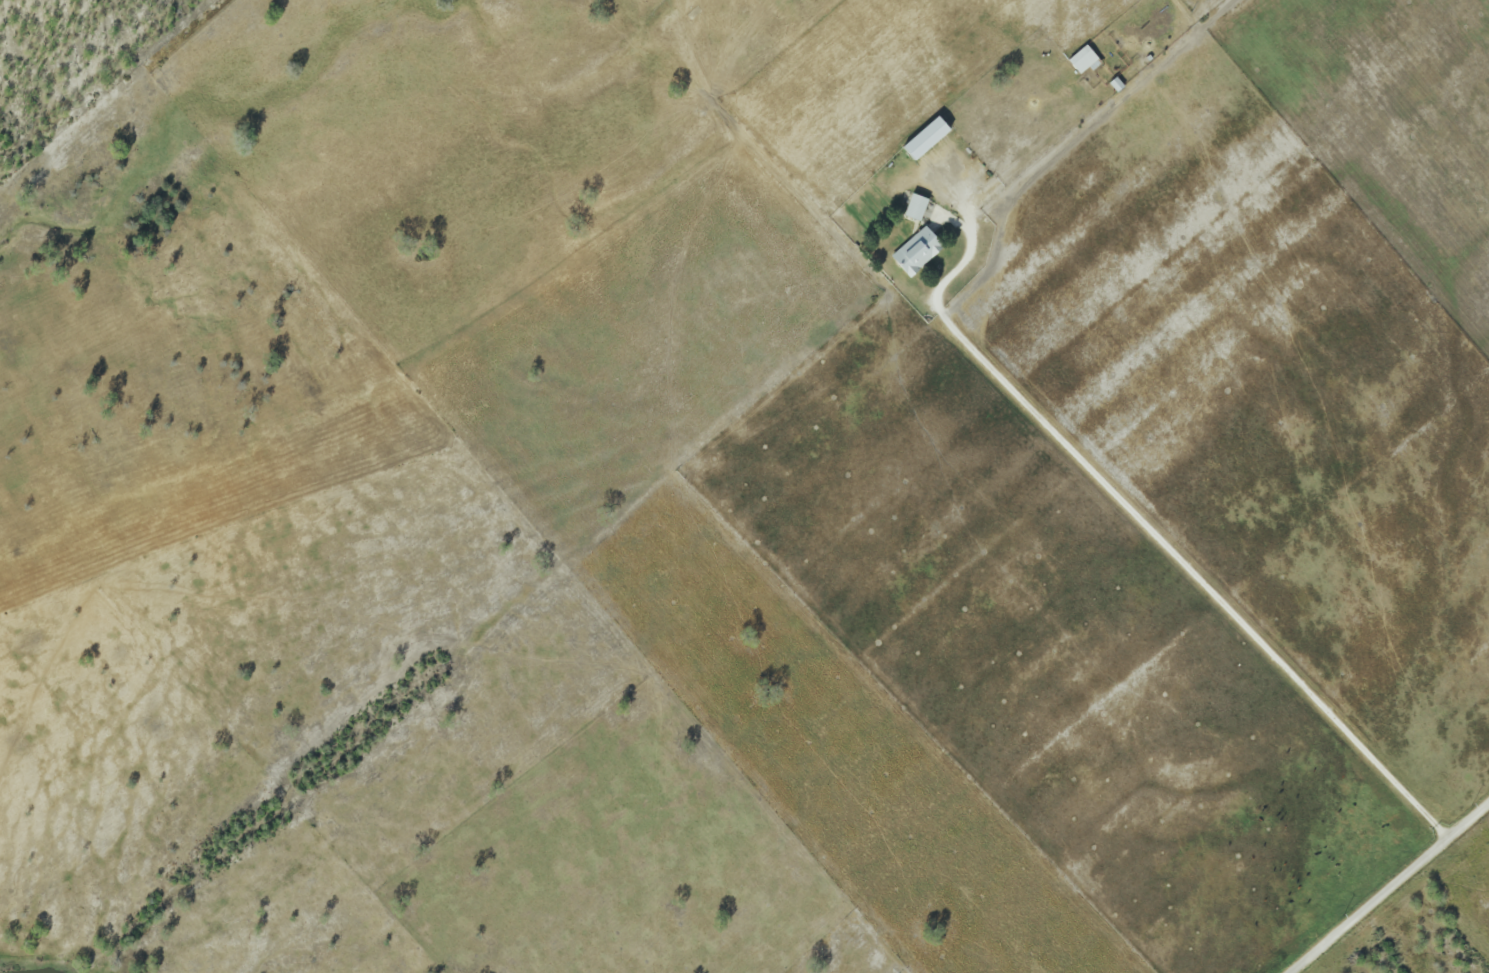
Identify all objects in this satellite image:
building: (1084, 60)
building: (925, 138)
building: (915, 207)
building: (917, 252)
road: (1179, 566)
road: (1389, 887)

